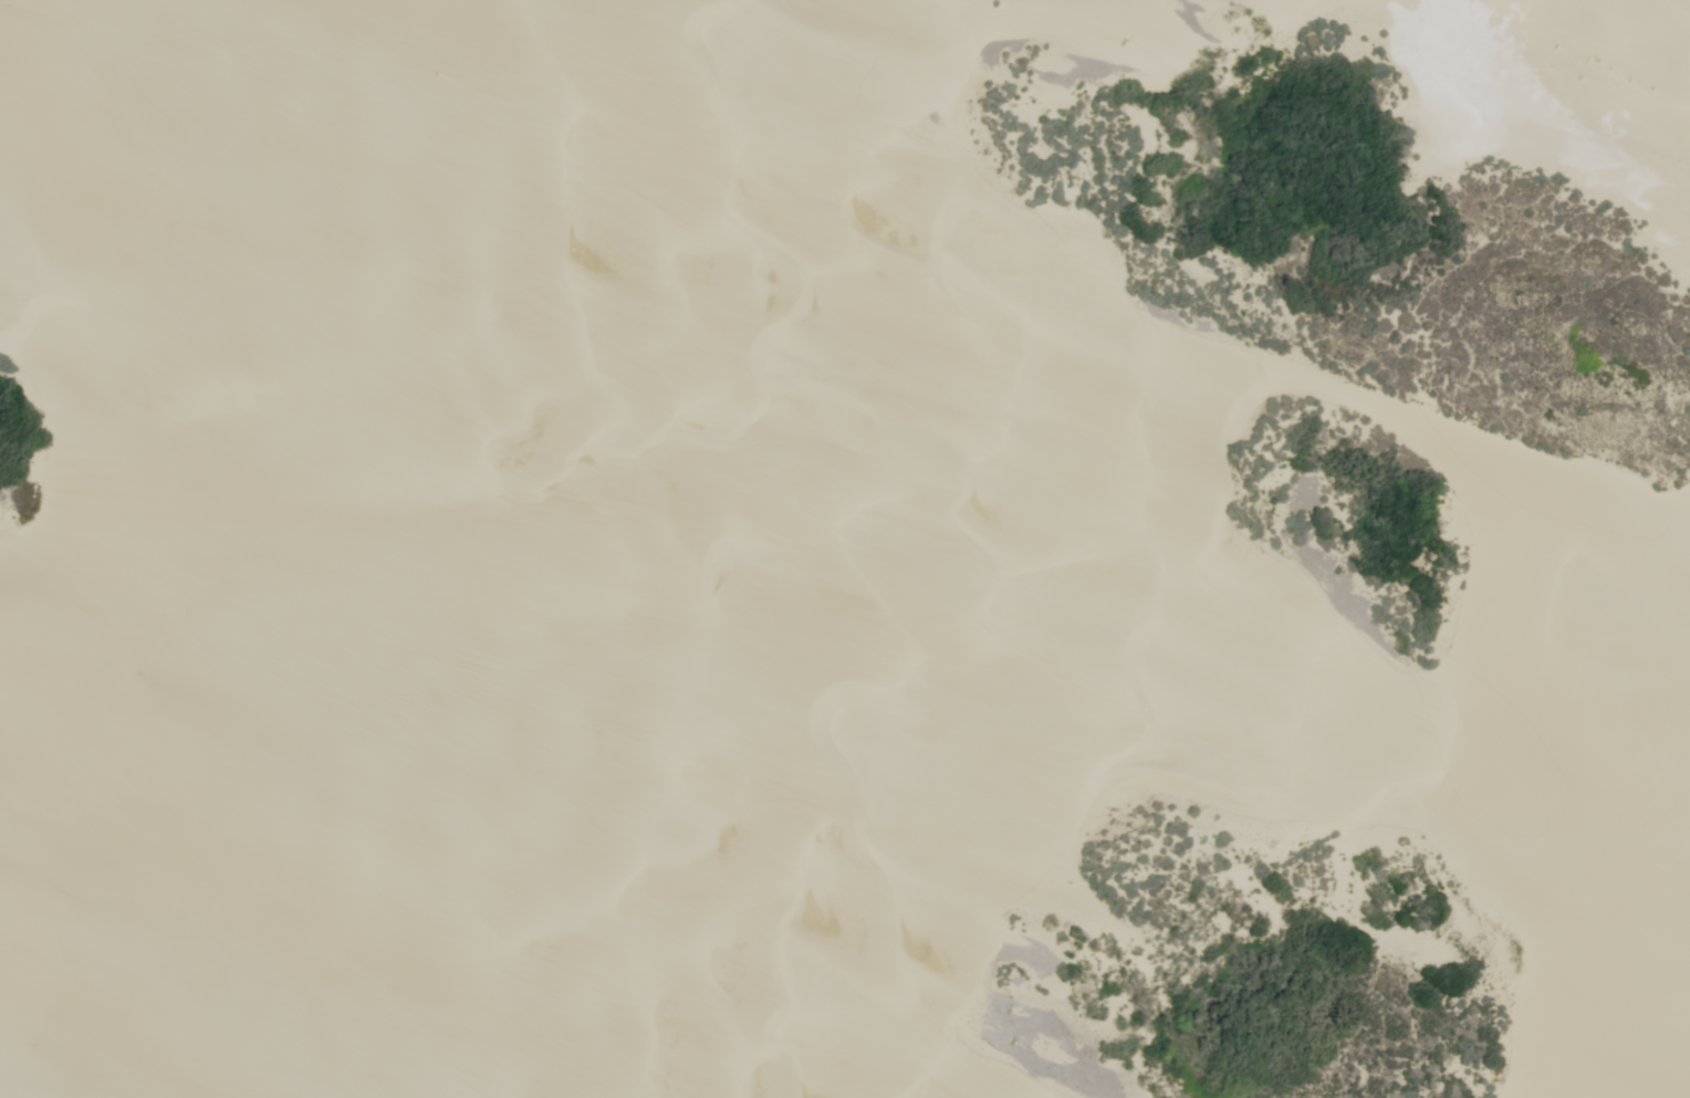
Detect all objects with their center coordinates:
road: (210, 223)
road: (493, 547)
park: (849, 556)

